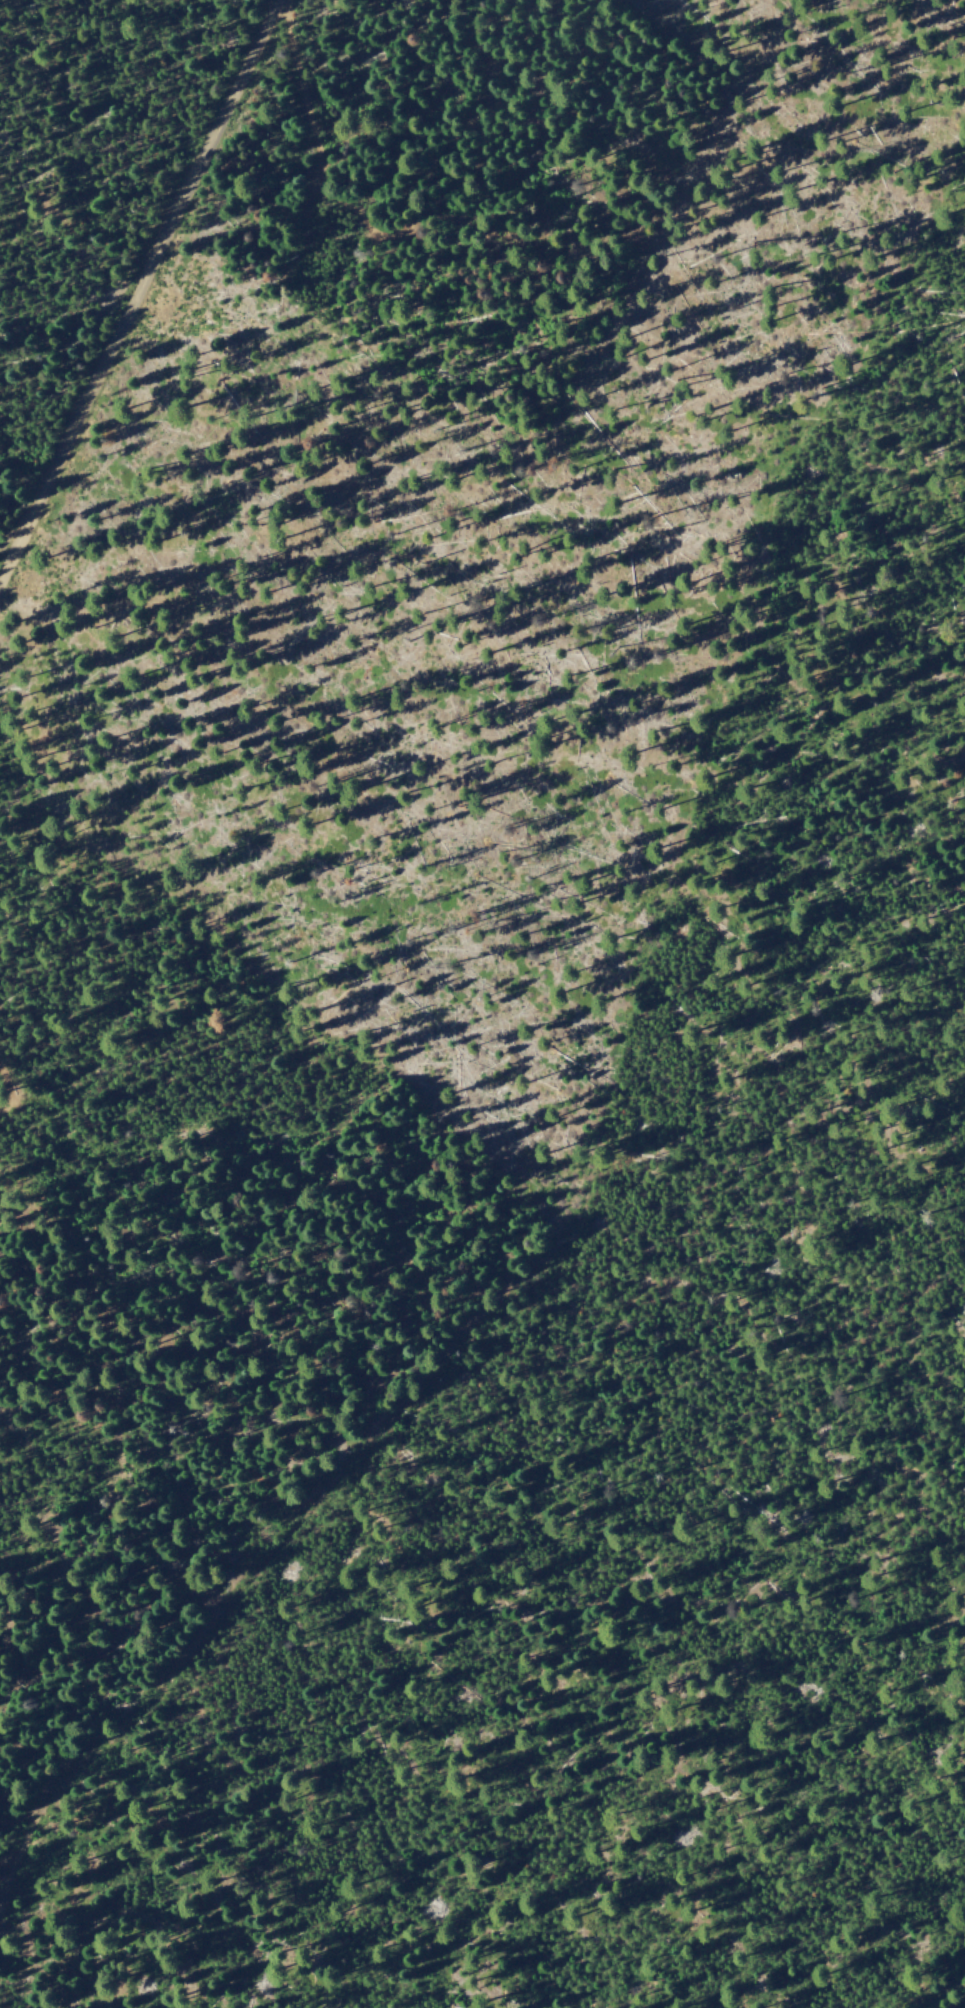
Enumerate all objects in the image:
road: (134, 286)

